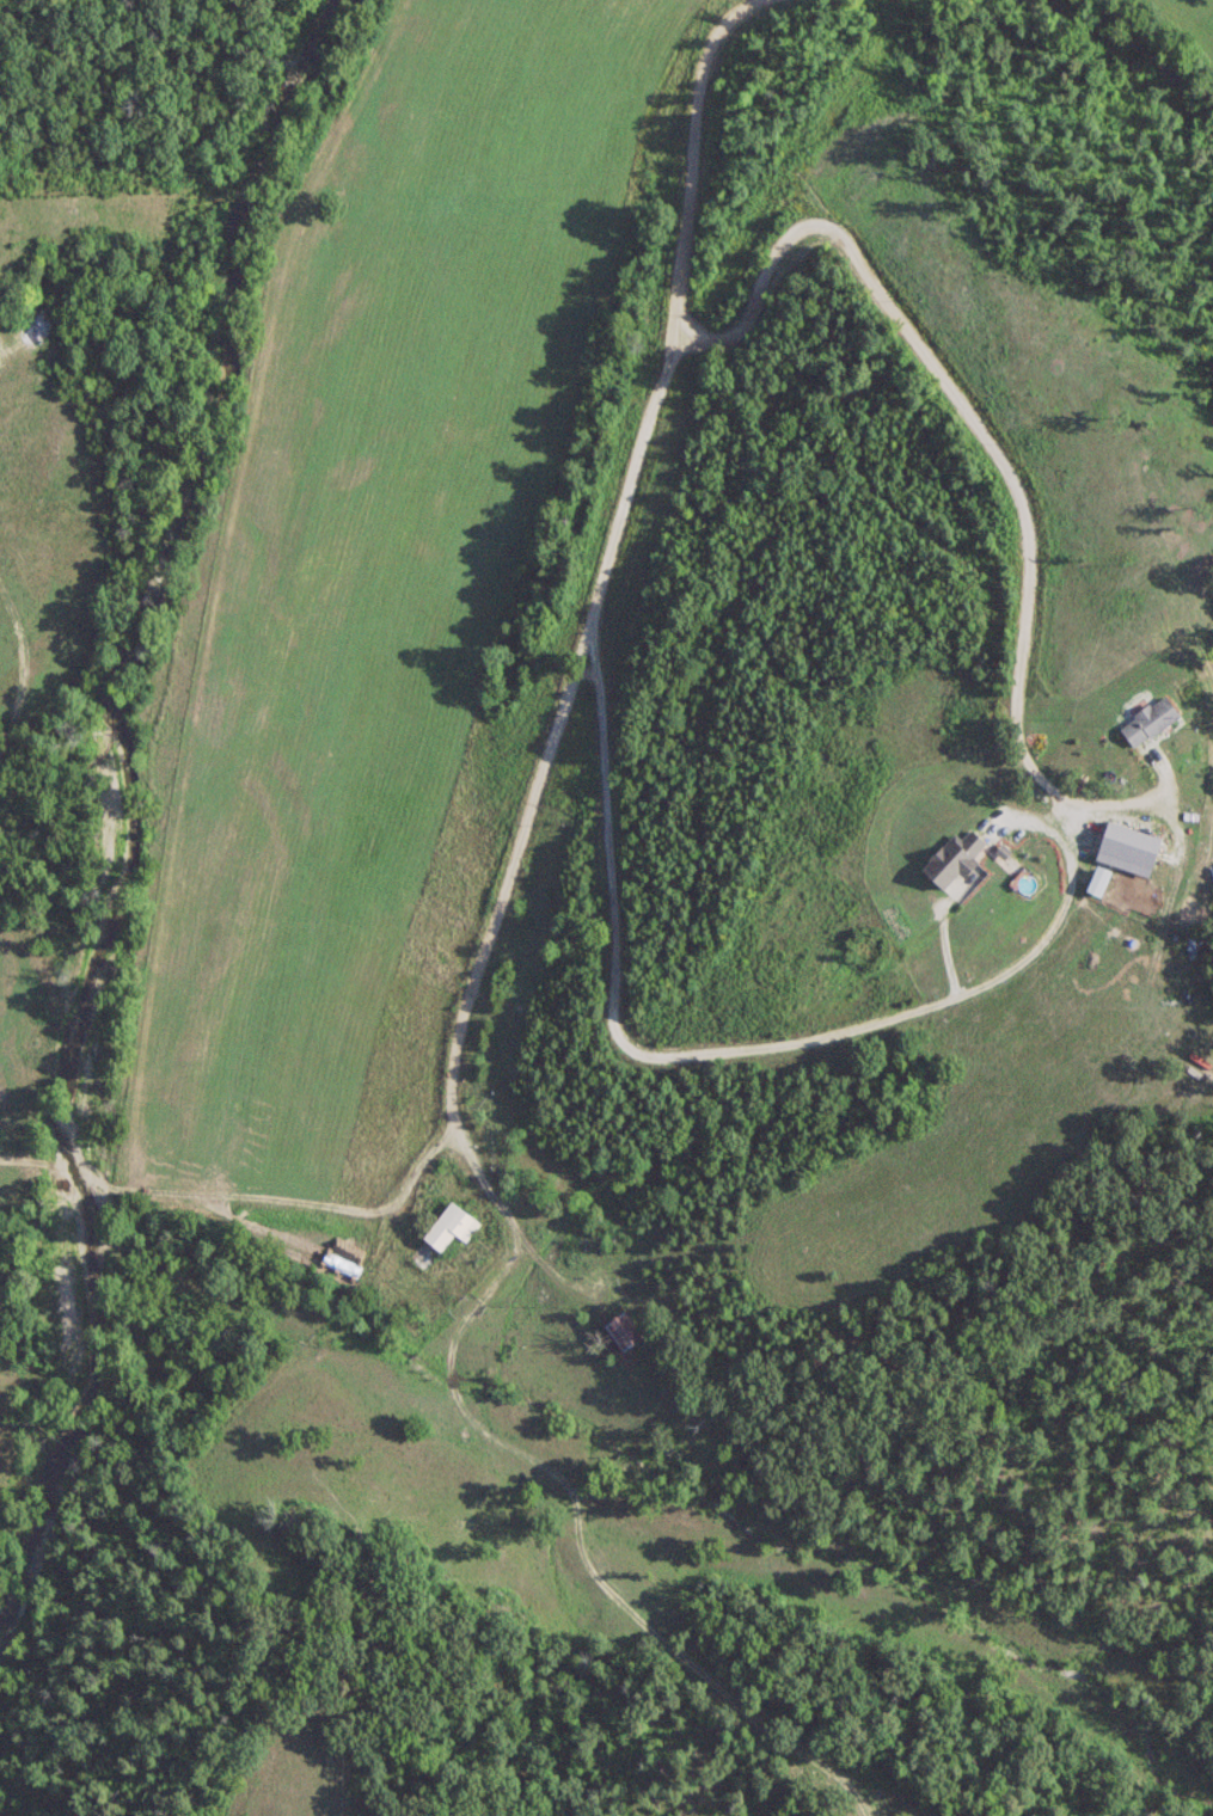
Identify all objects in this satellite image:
road: (609, 544)
building: (1151, 722)
building: (1117, 826)
building: (956, 860)
building: (453, 1226)
building: (626, 1332)

